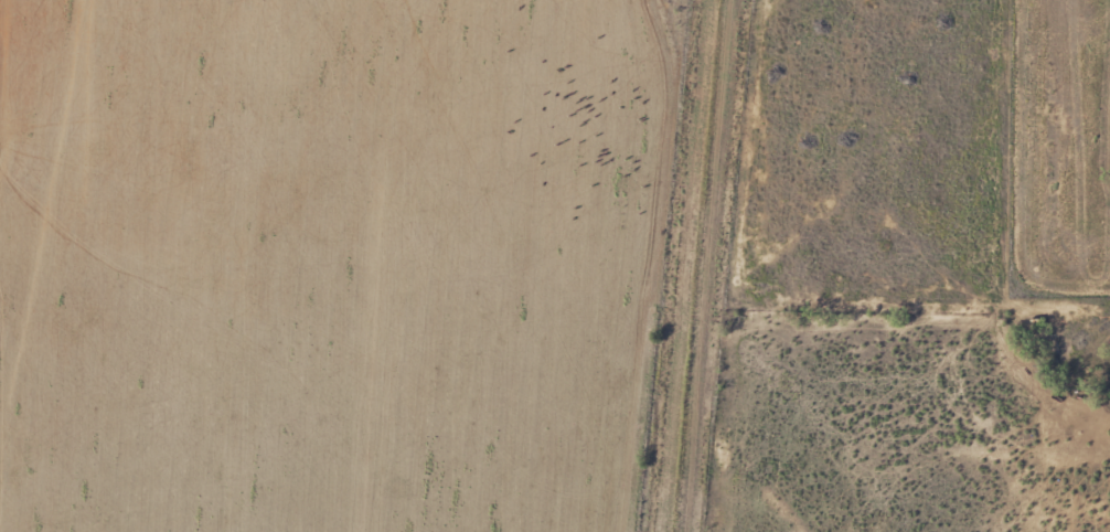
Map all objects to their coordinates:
railway: (687, 266)
building: (1108, 364)

